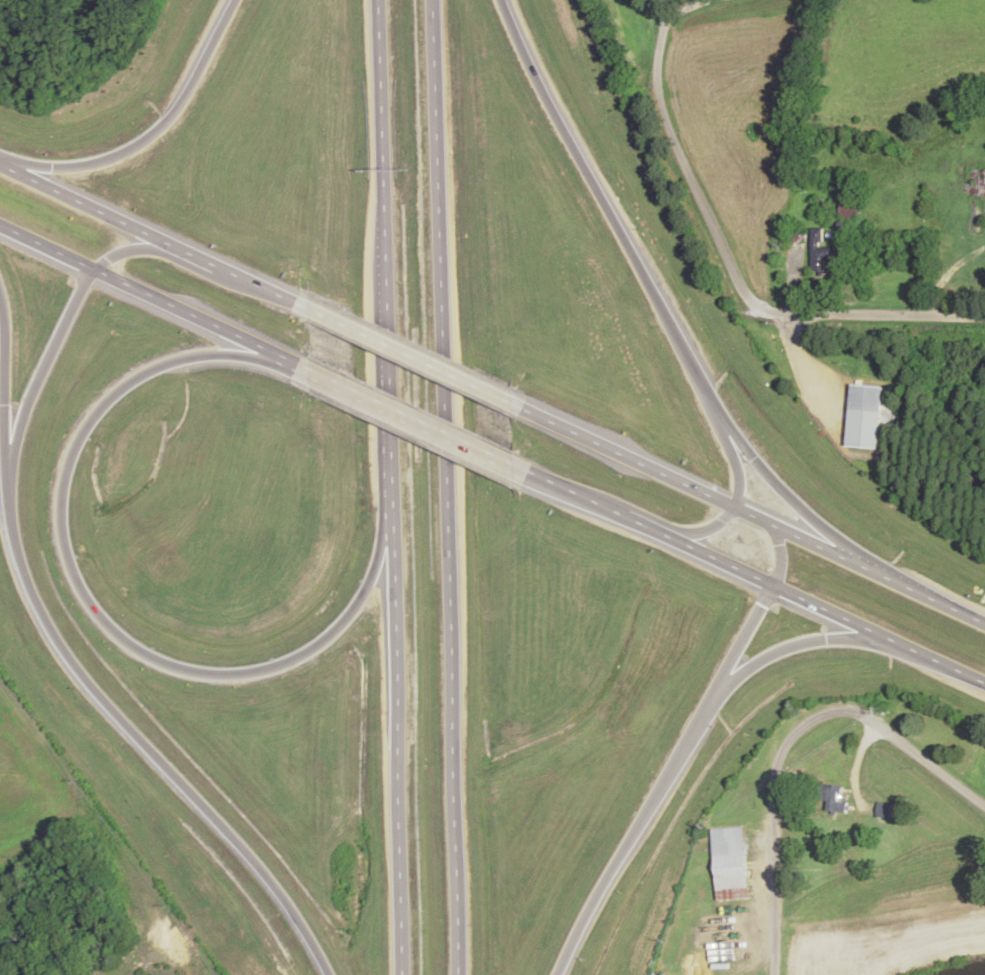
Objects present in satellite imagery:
road: (150, 134)
road: (688, 179)
building: (973, 182)
road: (87, 204)
building: (850, 210)
road: (381, 242)
building: (822, 253)
road: (196, 255)
road: (261, 287)
road: (144, 292)
road: (657, 307)
road: (889, 318)
road: (409, 356)
road: (294, 362)
road: (9, 382)
building: (864, 417)
road: (415, 419)
road: (444, 487)
road: (693, 488)
road: (579, 495)
road: (736, 500)
road: (648, 526)
road: (930, 597)
road: (826, 611)
road: (98, 616)
road: (41, 619)
road: (750, 630)
road: (780, 652)
road: (393, 729)
road: (787, 740)
building: (836, 801)
building: (889, 811)
road: (619, 852)
building: (729, 864)

